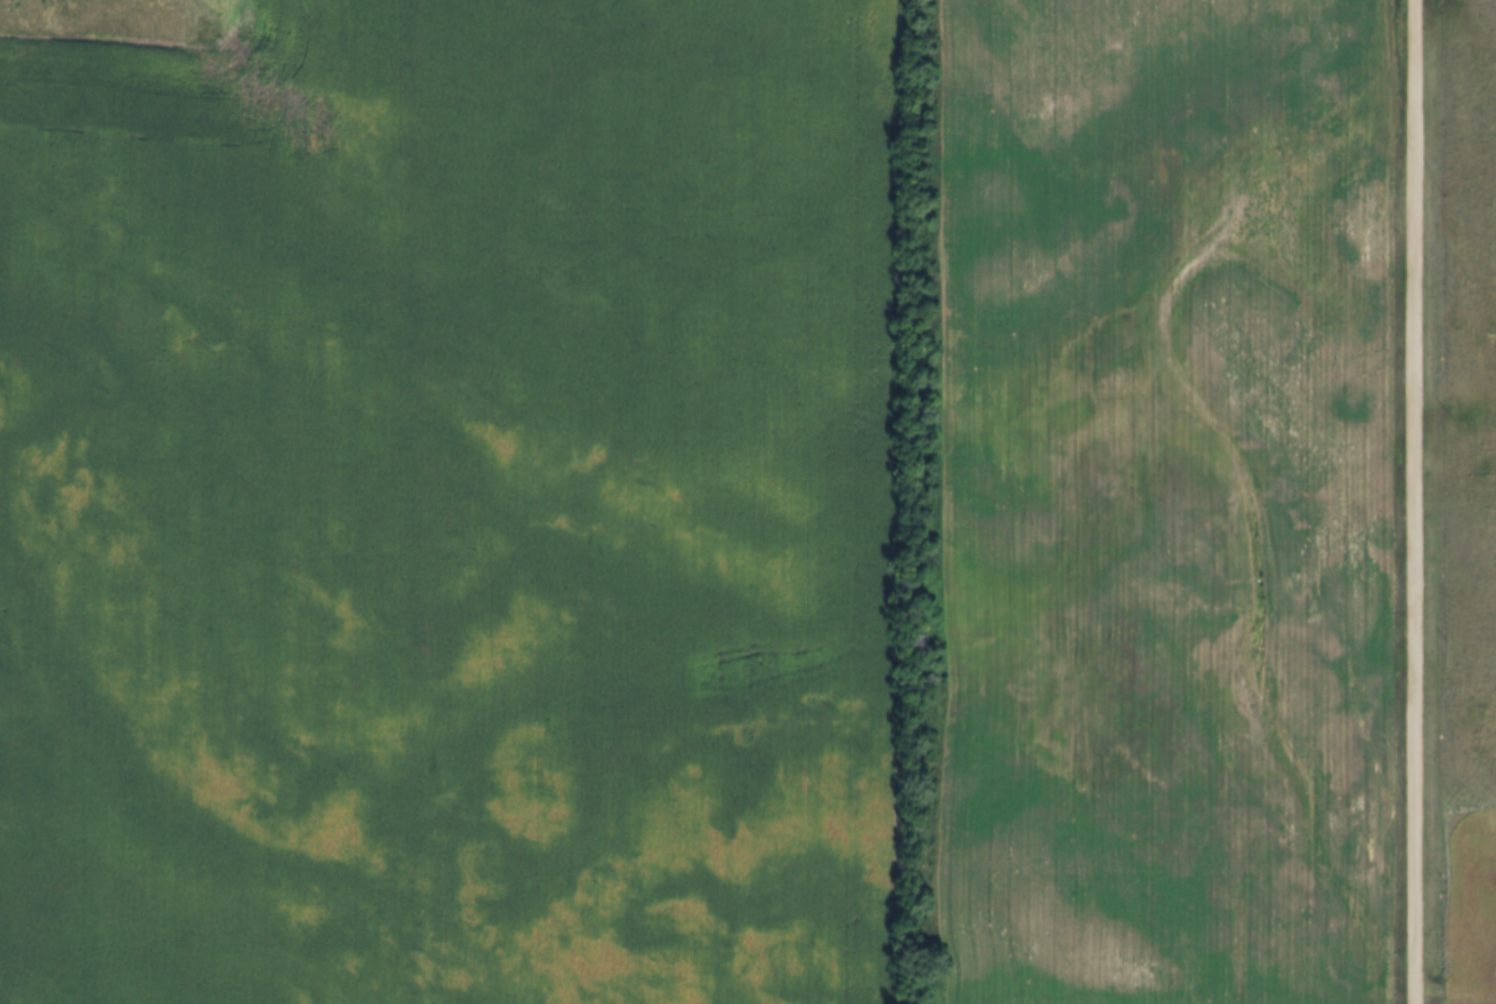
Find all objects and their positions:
road: (1412, 502)

